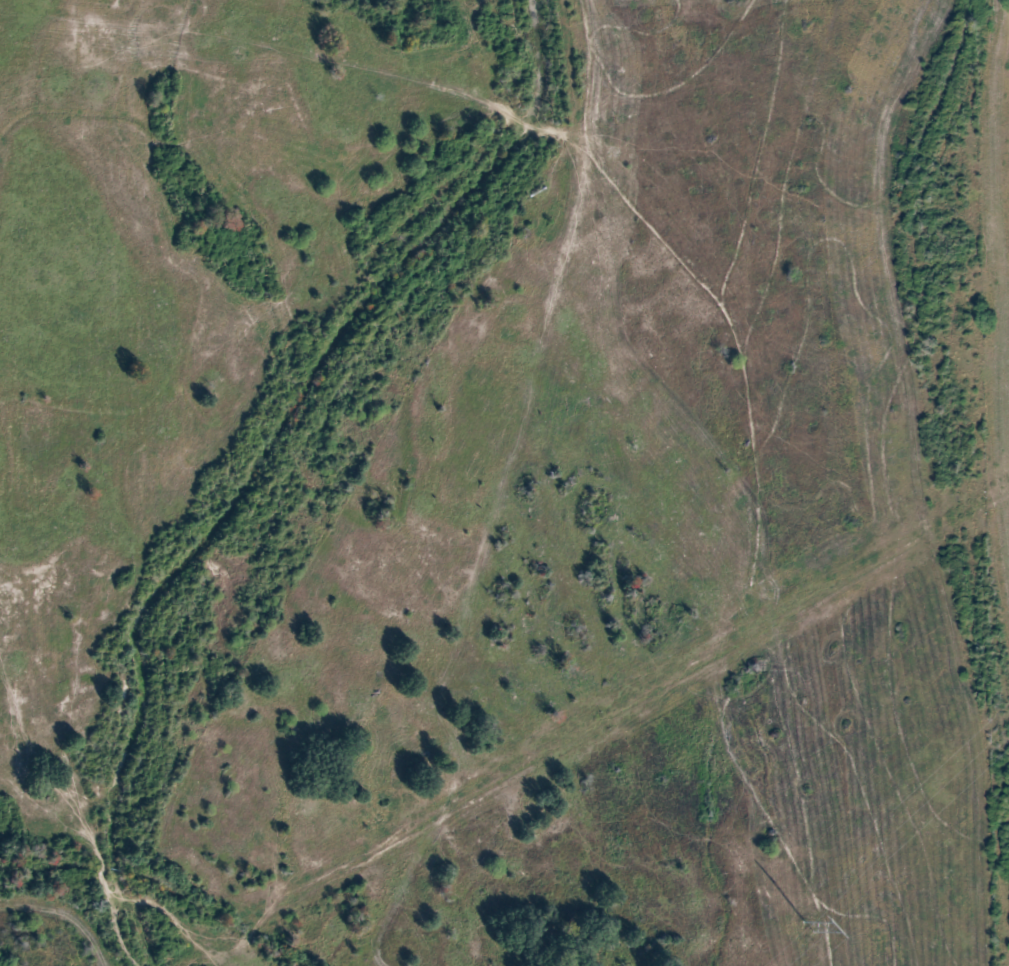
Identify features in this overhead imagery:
power tower: (805, 923)

